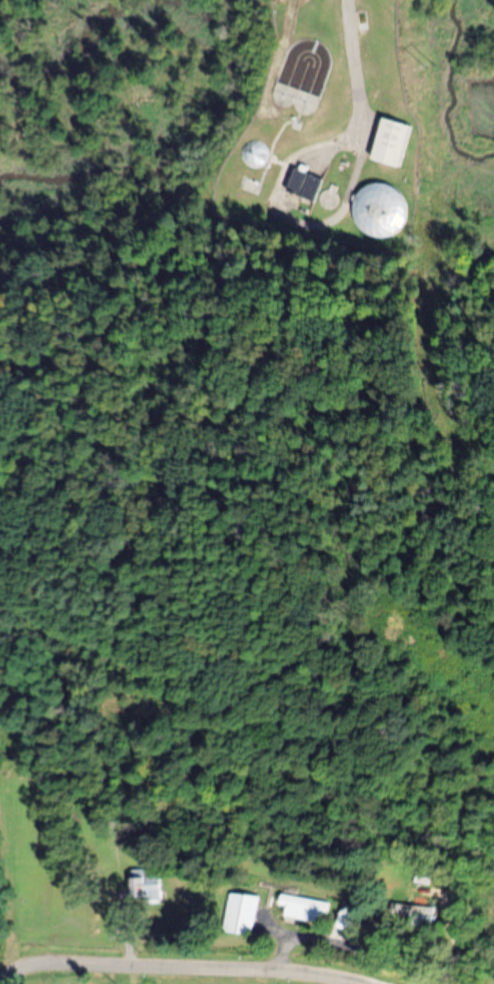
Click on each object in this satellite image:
road: (357, 64)
building: (393, 142)
building: (257, 154)
building: (305, 184)
building: (379, 209)
building: (146, 885)
building: (304, 909)
building: (242, 915)
building: (411, 915)
building: (346, 920)
road: (170, 968)

